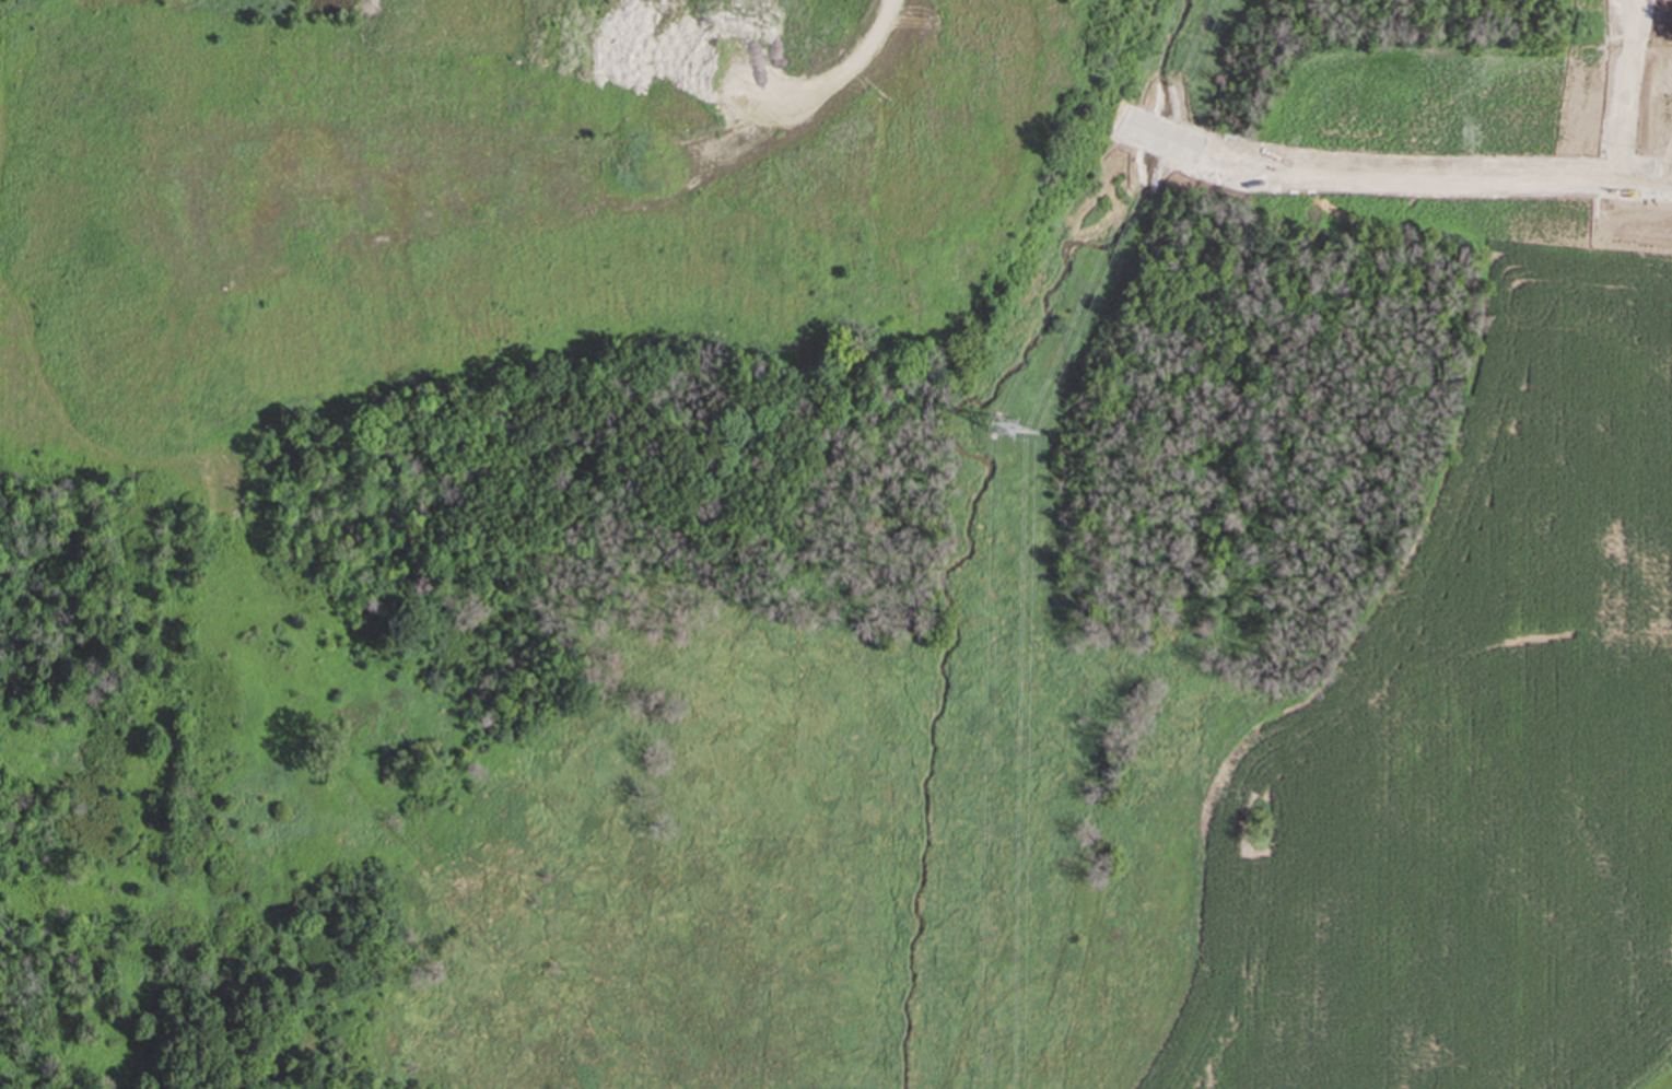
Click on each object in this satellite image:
power tower: (1006, 429)
quarry: (835, 544)
crop: (1473, 749)

